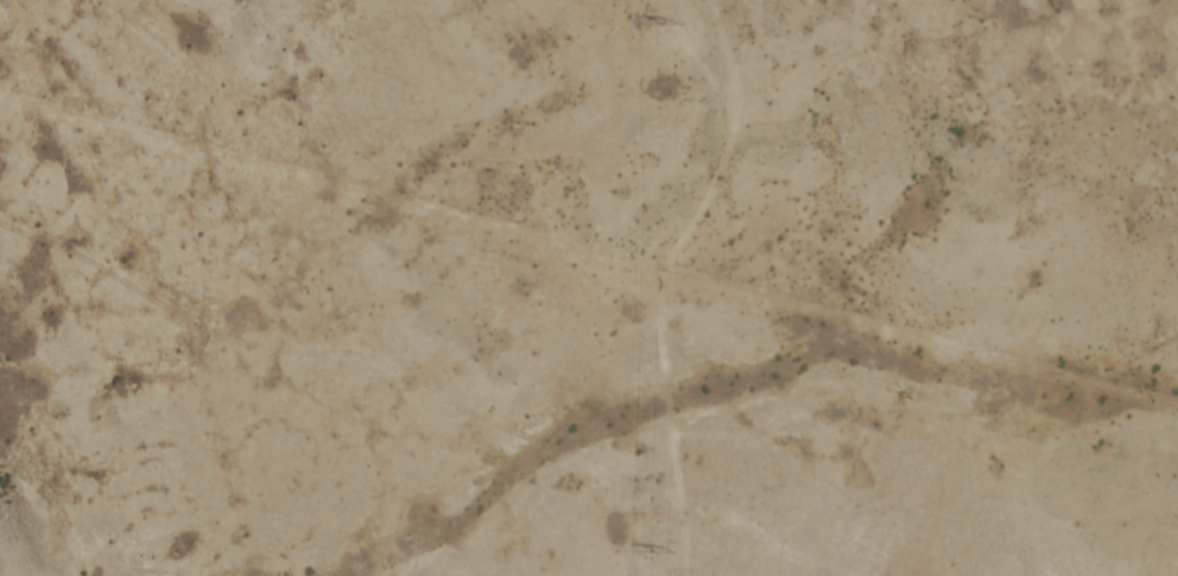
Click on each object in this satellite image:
power tower: (670, 24)
power tower: (669, 551)

